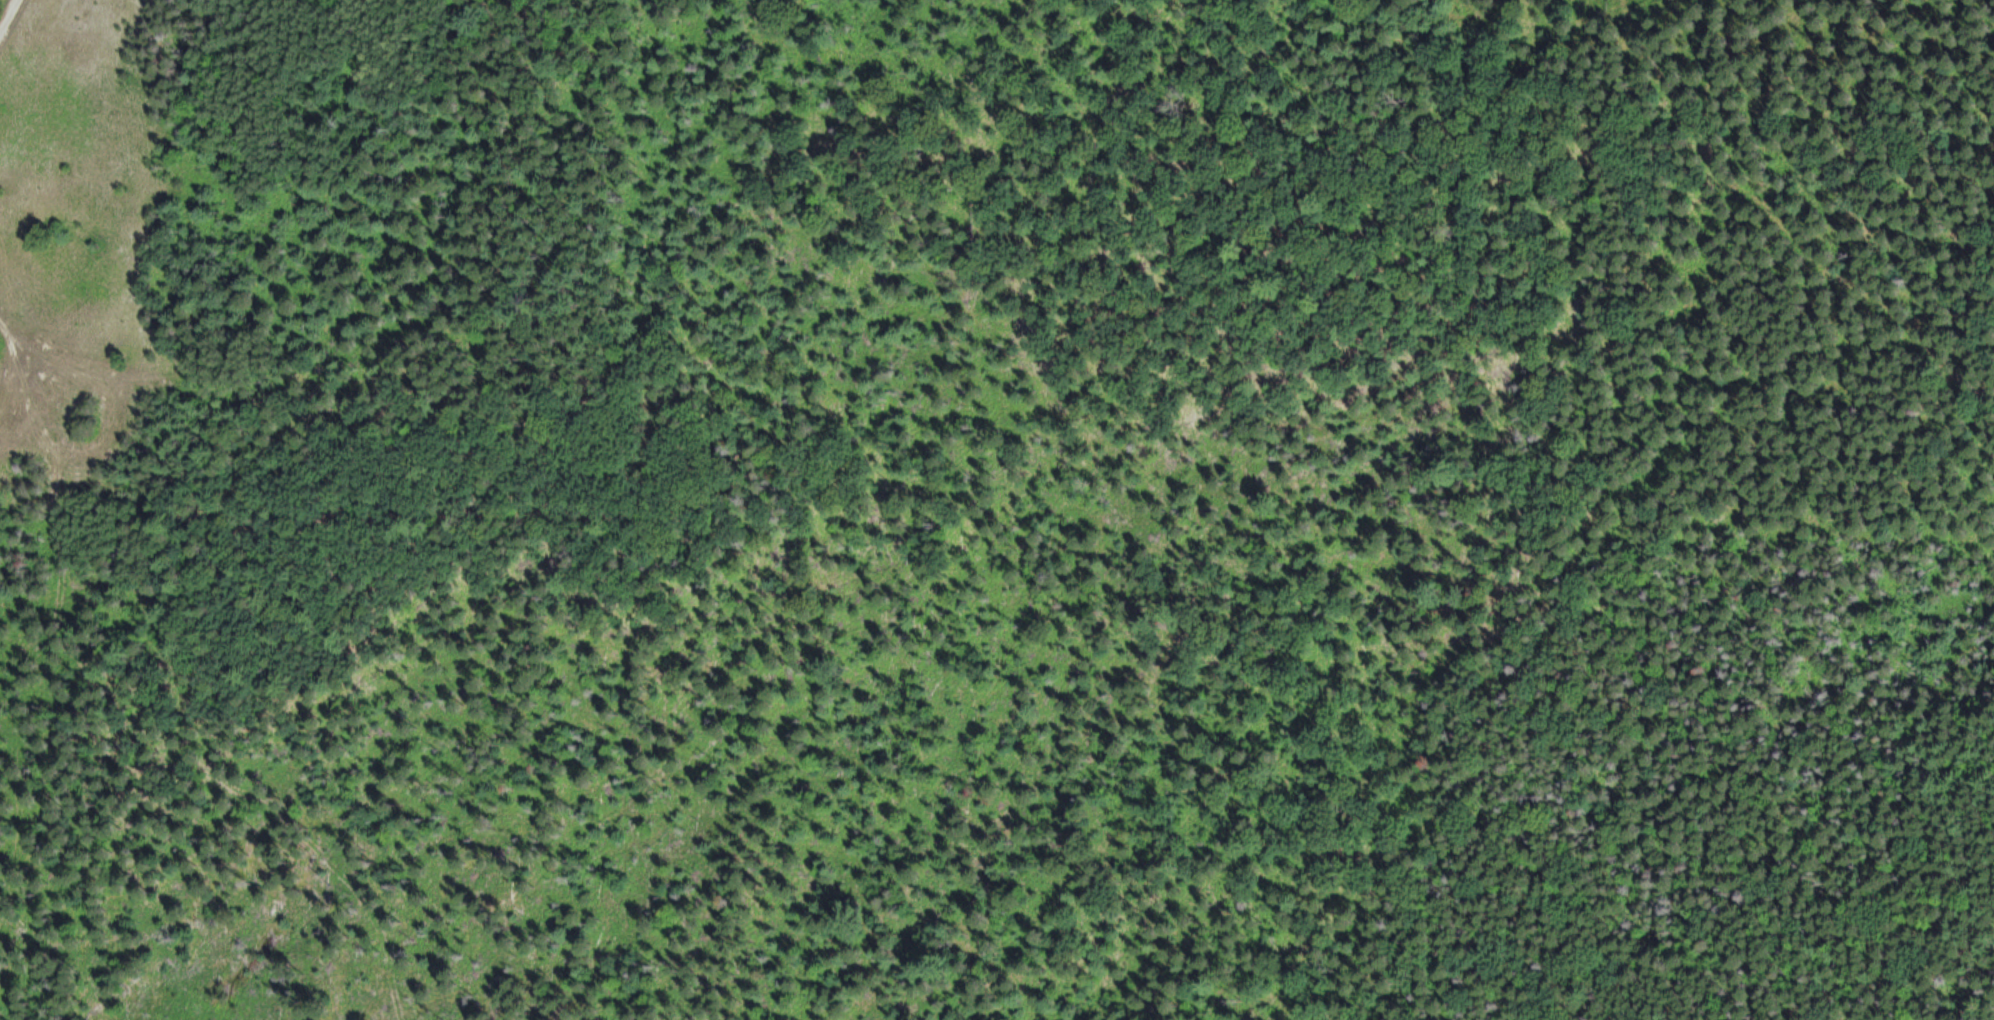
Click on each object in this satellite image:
road: (6, 11)
road: (42, 409)
road: (590, 512)

